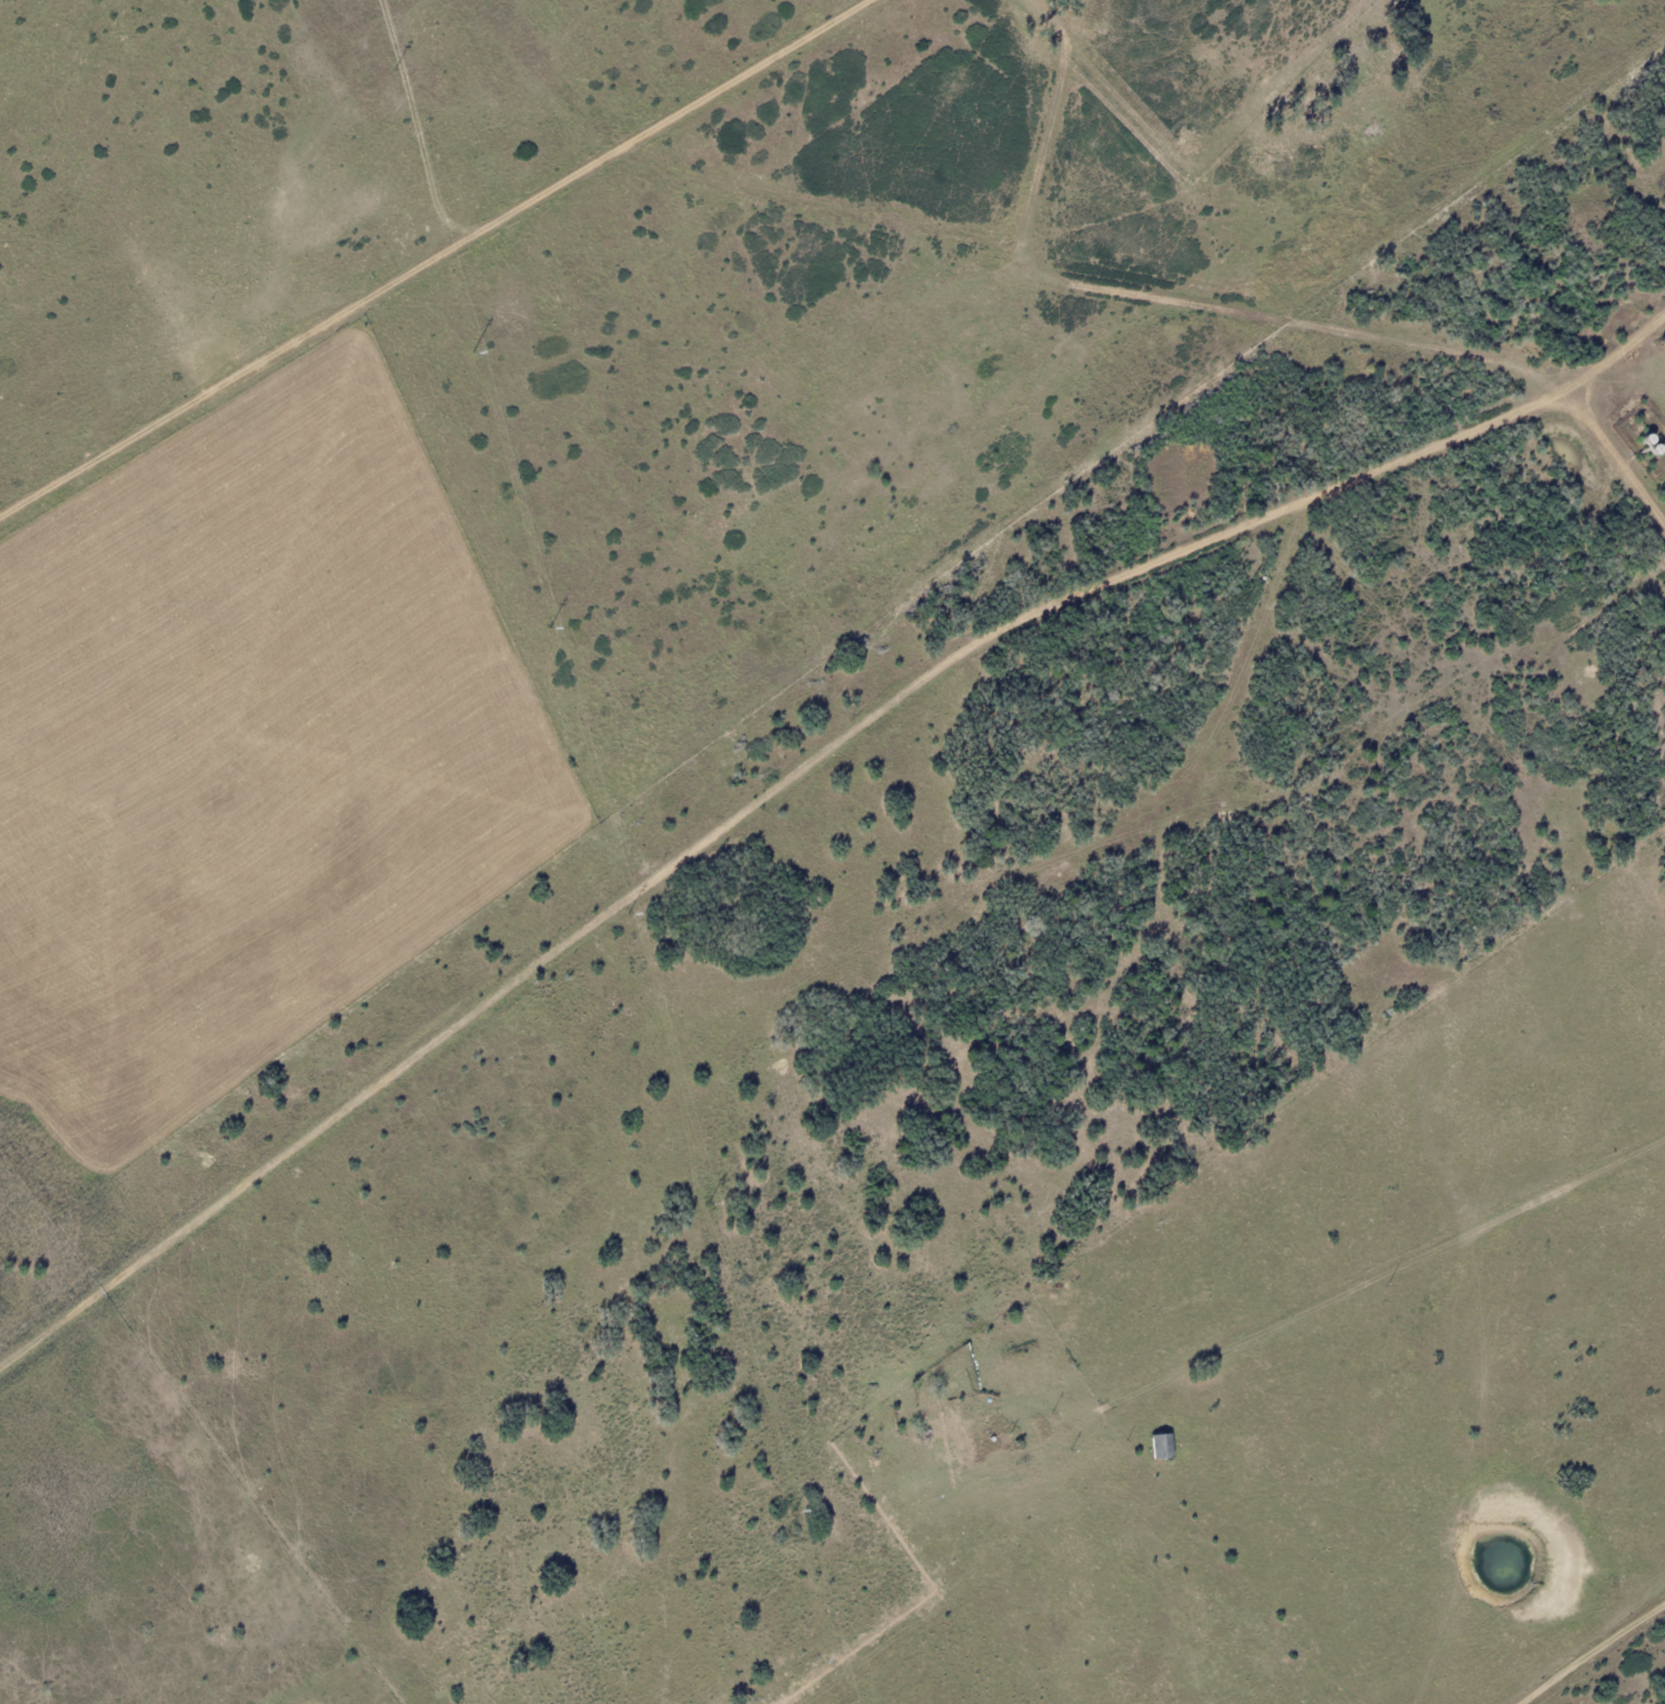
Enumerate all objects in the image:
road: (1591, 1651)

